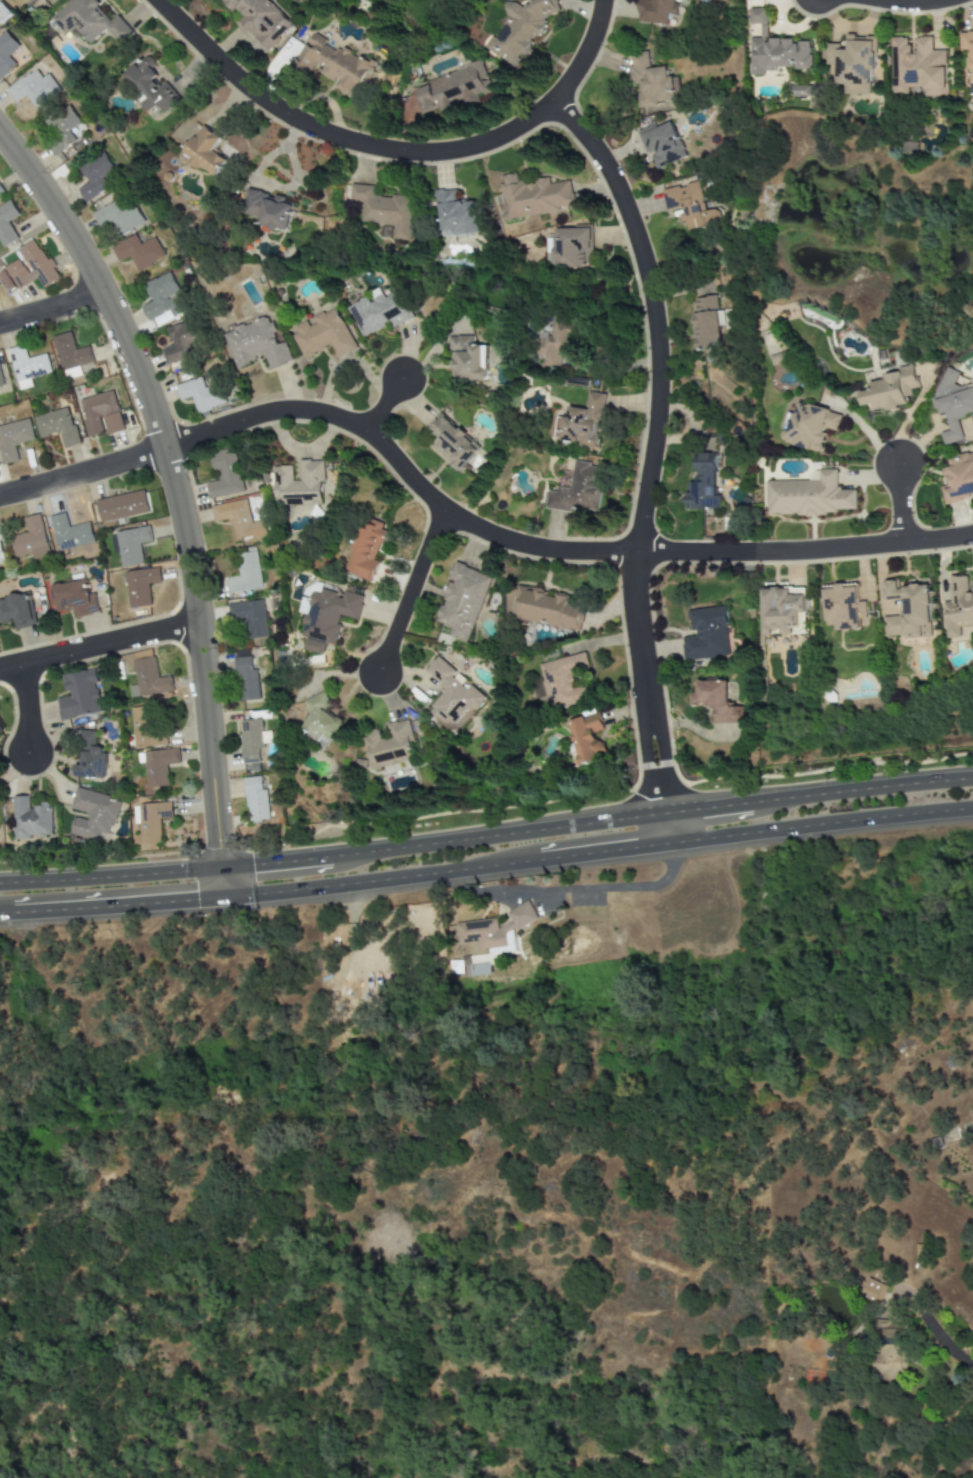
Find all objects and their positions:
road: (912, 3)
building: (657, 11)
building: (90, 20)
building: (260, 20)
building: (520, 29)
building: (774, 48)
building: (6, 53)
building: (968, 55)
building: (853, 64)
building: (332, 65)
building: (917, 68)
building: (651, 81)
building: (150, 86)
building: (451, 88)
building: (35, 89)
building: (800, 91)
building: (64, 131)
building: (662, 143)
road: (393, 148)
building: (205, 151)
building: (96, 178)
building: (533, 196)
building: (689, 205)
building: (382, 209)
building: (268, 210)
building: (455, 213)
building: (119, 218)
building: (7, 224)
building: (572, 248)
building: (138, 252)
building: (28, 269)
building: (163, 300)
road: (52, 307)
building: (379, 311)
building: (708, 323)
building: (324, 334)
building: (557, 342)
building: (179, 343)
building: (256, 344)
building: (70, 352)
building: (467, 359)
building: (778, 359)
building: (27, 367)
building: (0, 382)
building: (890, 390)
building: (201, 394)
building: (952, 404)
road: (383, 407)
building: (101, 414)
building: (583, 423)
building: (57, 426)
building: (809, 426)
building: (14, 439)
road: (650, 443)
building: (455, 444)
building: (225, 474)
building: (958, 477)
building: (299, 483)
road: (169, 484)
building: (703, 484)
building: (579, 490)
building: (810, 495)
road: (899, 498)
building: (122, 506)
building: (237, 519)
road: (463, 522)
building: (70, 533)
building: (31, 540)
building: (129, 546)
building: (365, 549)
building: (1, 555)
building: (244, 573)
building: (141, 586)
road: (405, 597)
building: (74, 599)
building: (463, 600)
building: (843, 607)
building: (958, 607)
building: (544, 609)
building: (783, 610)
building: (908, 610)
building: (17, 611)
building: (325, 615)
building: (249, 617)
building: (706, 634)
road: (98, 647)
building: (245, 676)
building: (148, 677)
building: (563, 681)
building: (451, 694)
building: (79, 696)
building: (716, 701)
road: (26, 713)
building: (321, 721)
building: (146, 729)
building: (0, 731)
building: (587, 738)
building: (250, 745)
building: (389, 745)
building: (90, 756)
building: (157, 766)
road: (860, 785)
building: (255, 799)
road: (705, 804)
building: (93, 814)
building: (31, 820)
building: (151, 820)
road: (665, 827)
road: (496, 831)
traffic signals: (223, 857)
road: (277, 858)
traffic signals: (256, 860)
road: (112, 873)
road: (487, 877)
road: (225, 885)
road: (583, 891)
traffic signals: (201, 910)
building: (494, 928)
building: (475, 966)
building: (872, 1292)
road: (948, 1346)
building: (888, 1350)

